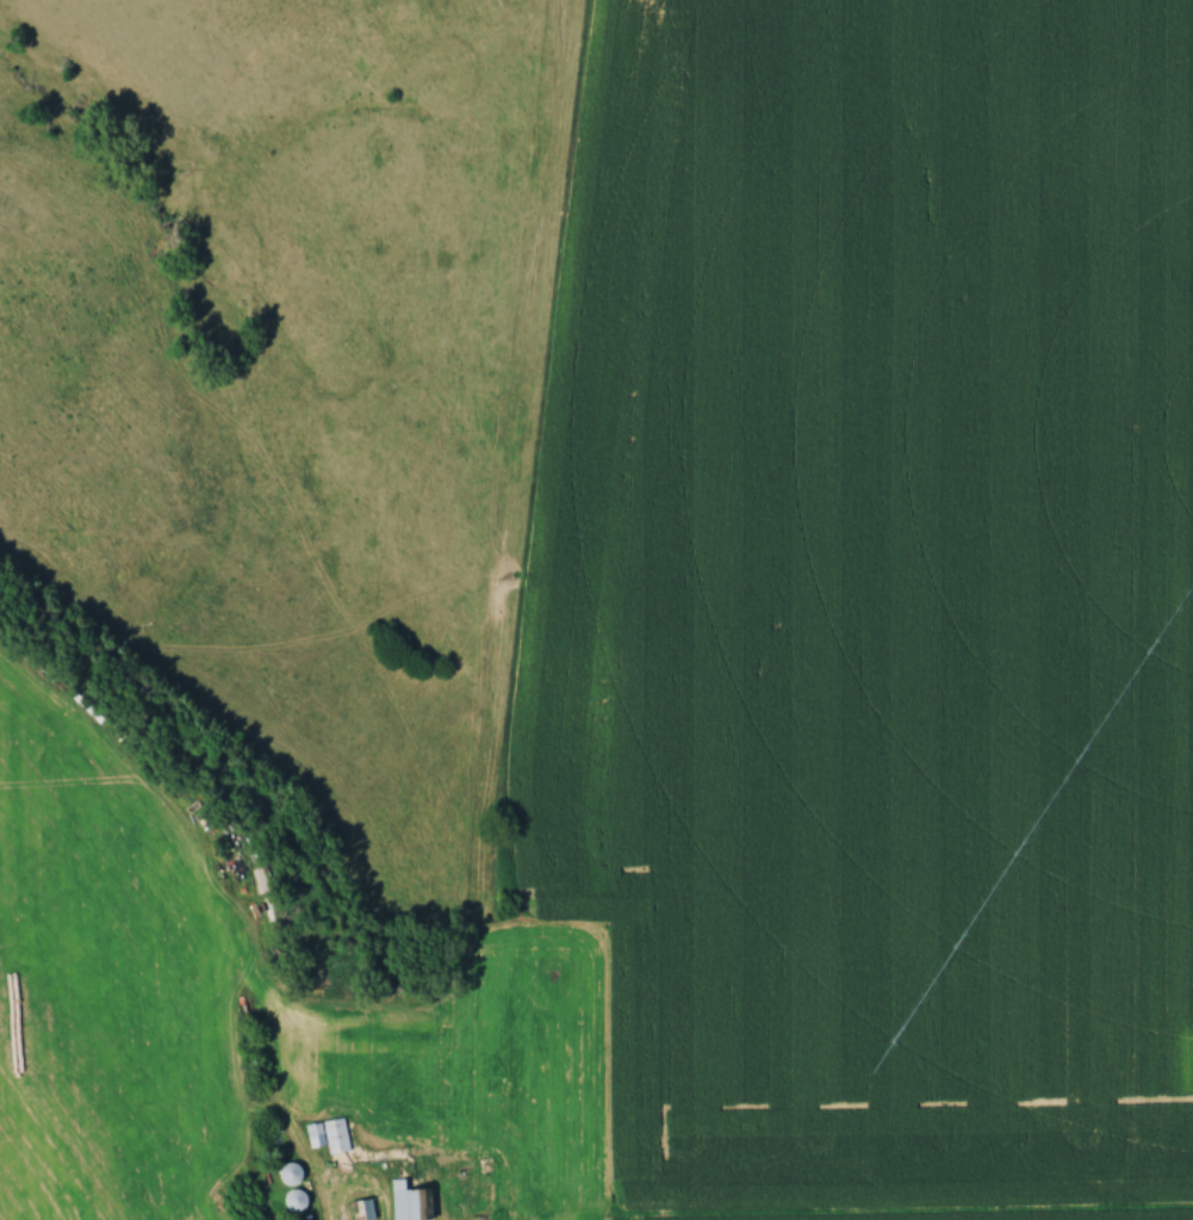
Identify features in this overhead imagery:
crop: (107, 986)
building: (330, 1133)
building: (409, 1200)
road: (884, 1212)

